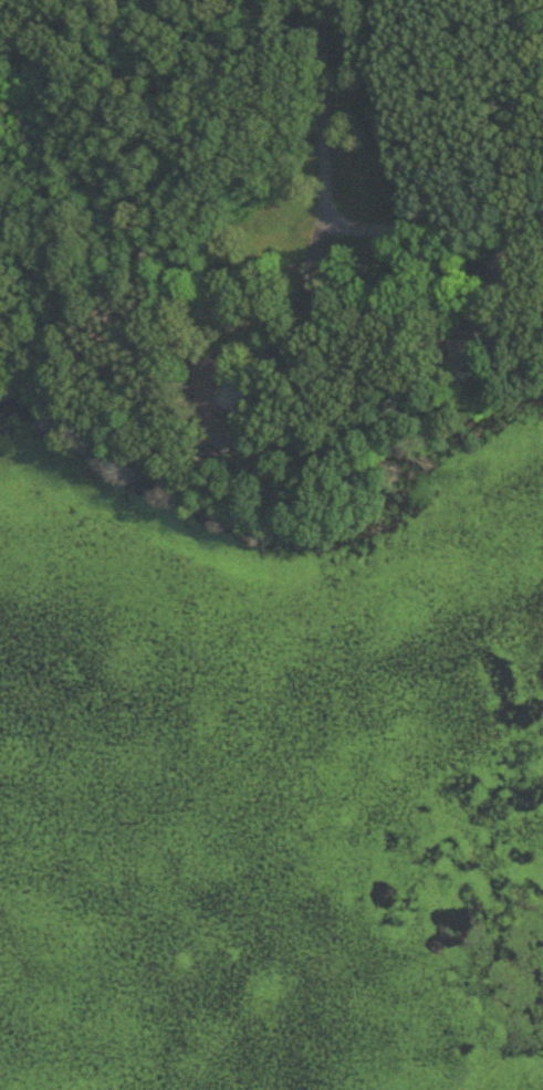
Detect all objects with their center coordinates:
road: (317, 106)
road: (399, 228)
building: (508, 265)
road: (290, 302)
building: (476, 339)
building: (213, 408)

